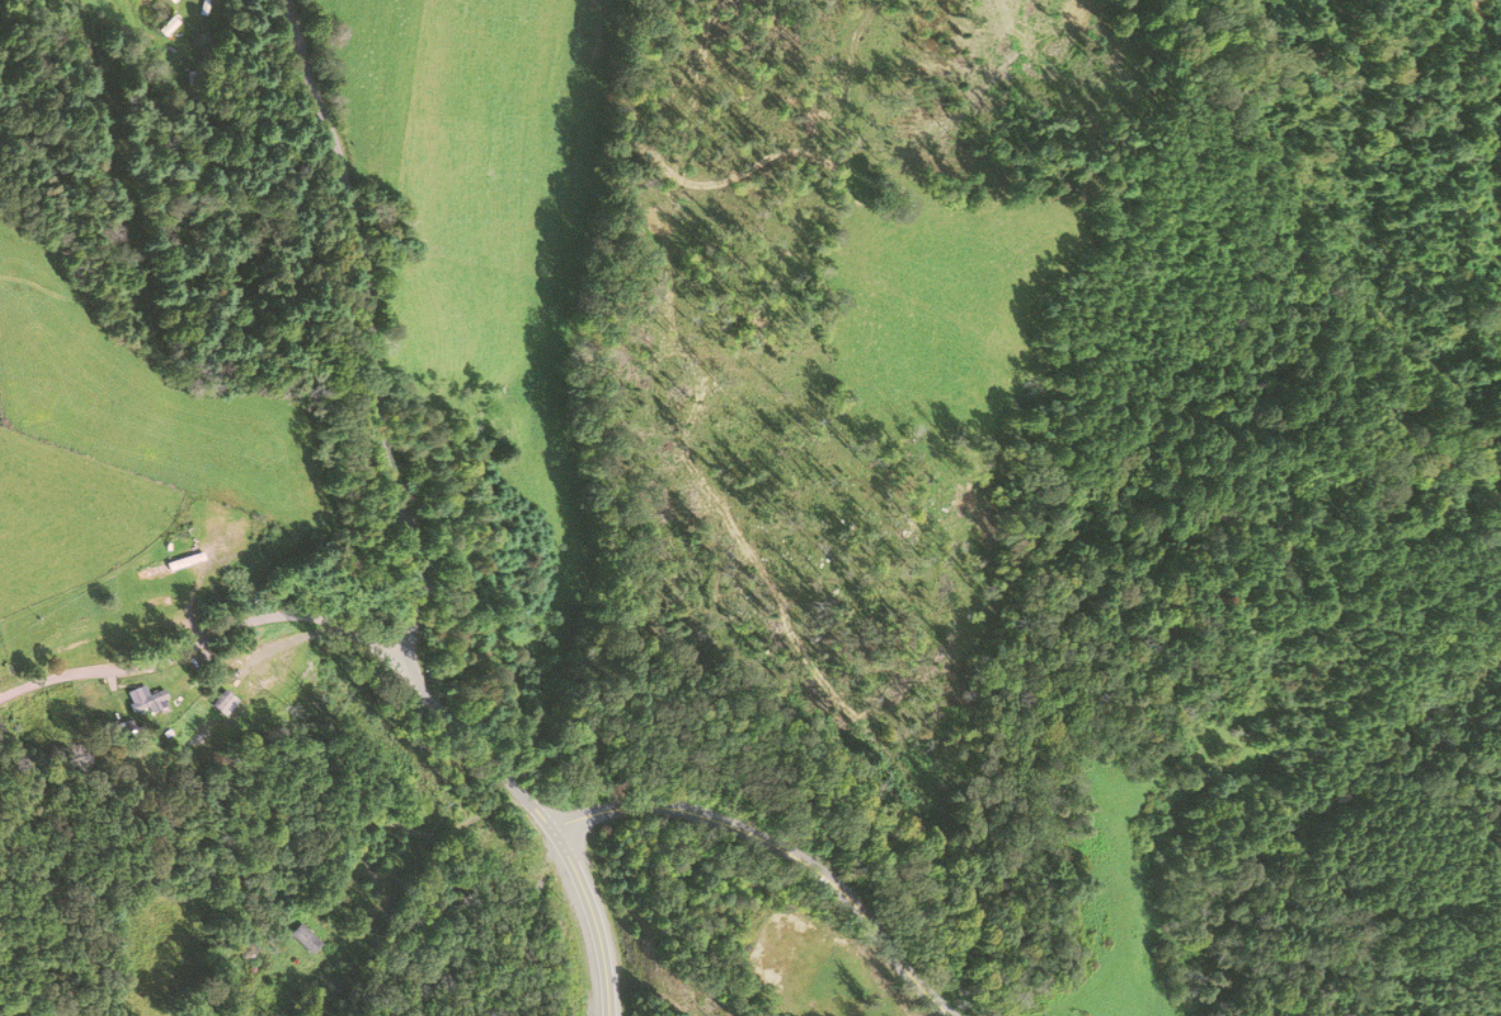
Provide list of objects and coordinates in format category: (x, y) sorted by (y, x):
road: (385, 438)
building: (159, 571)
road: (204, 656)
building: (150, 700)
building: (227, 703)
road: (415, 832)
road: (780, 851)
road: (592, 917)
building: (304, 939)

